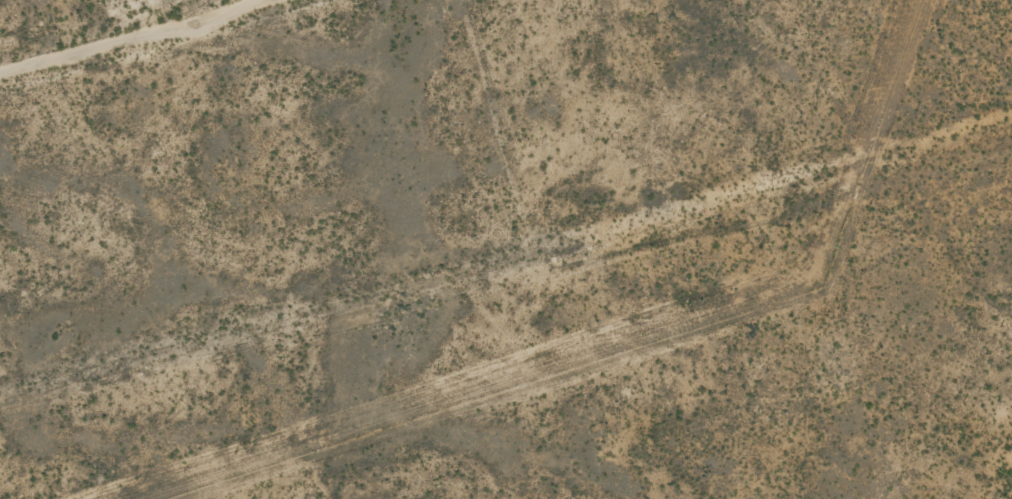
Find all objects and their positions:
road: (1006, 21)
road: (225, 43)
road: (272, 76)

